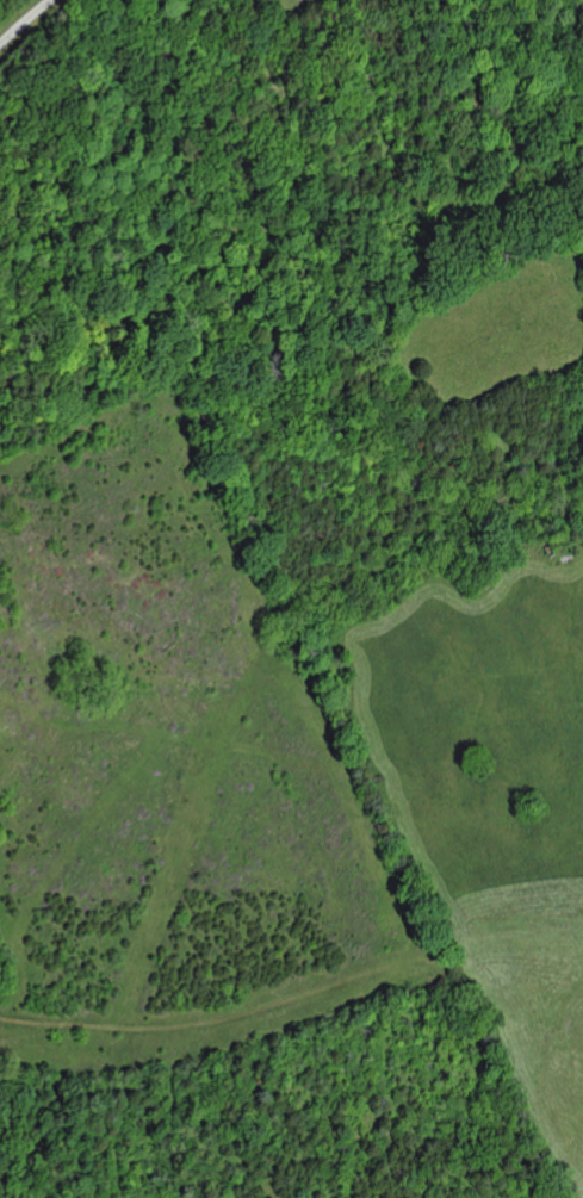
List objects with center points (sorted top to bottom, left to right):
road: (26, 23)
road: (228, 920)

